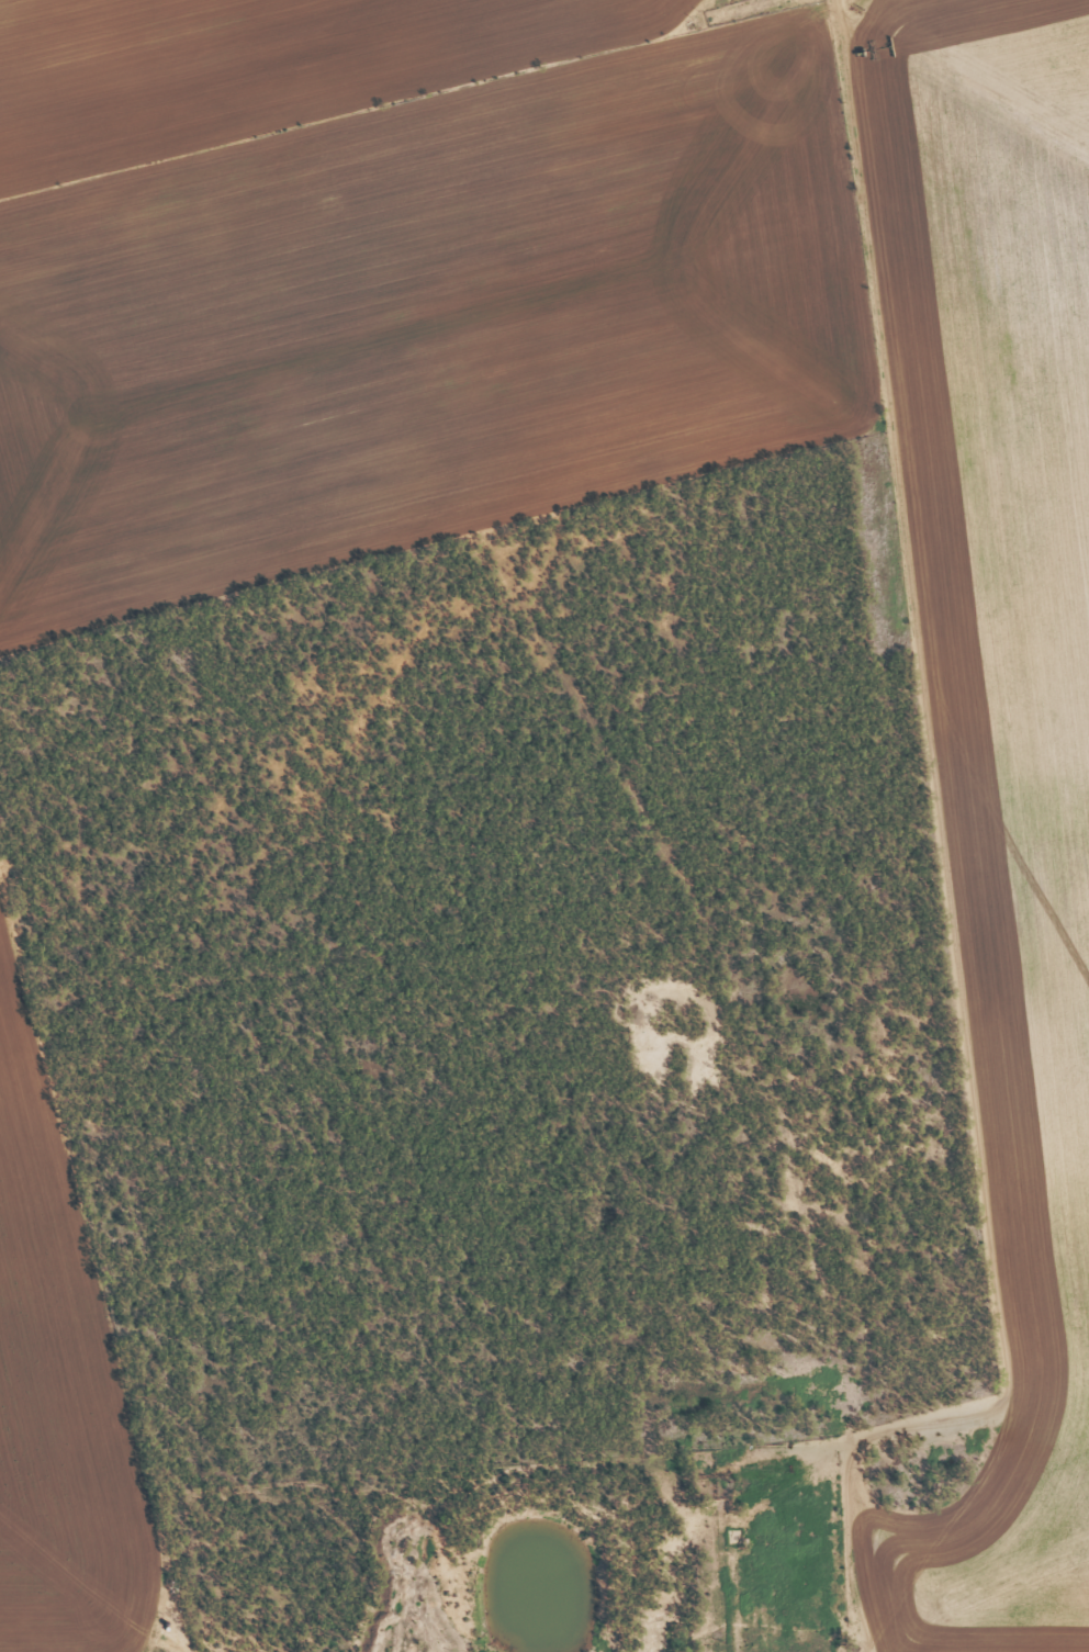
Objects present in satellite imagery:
road: (840, 1466)
road: (966, 1504)

